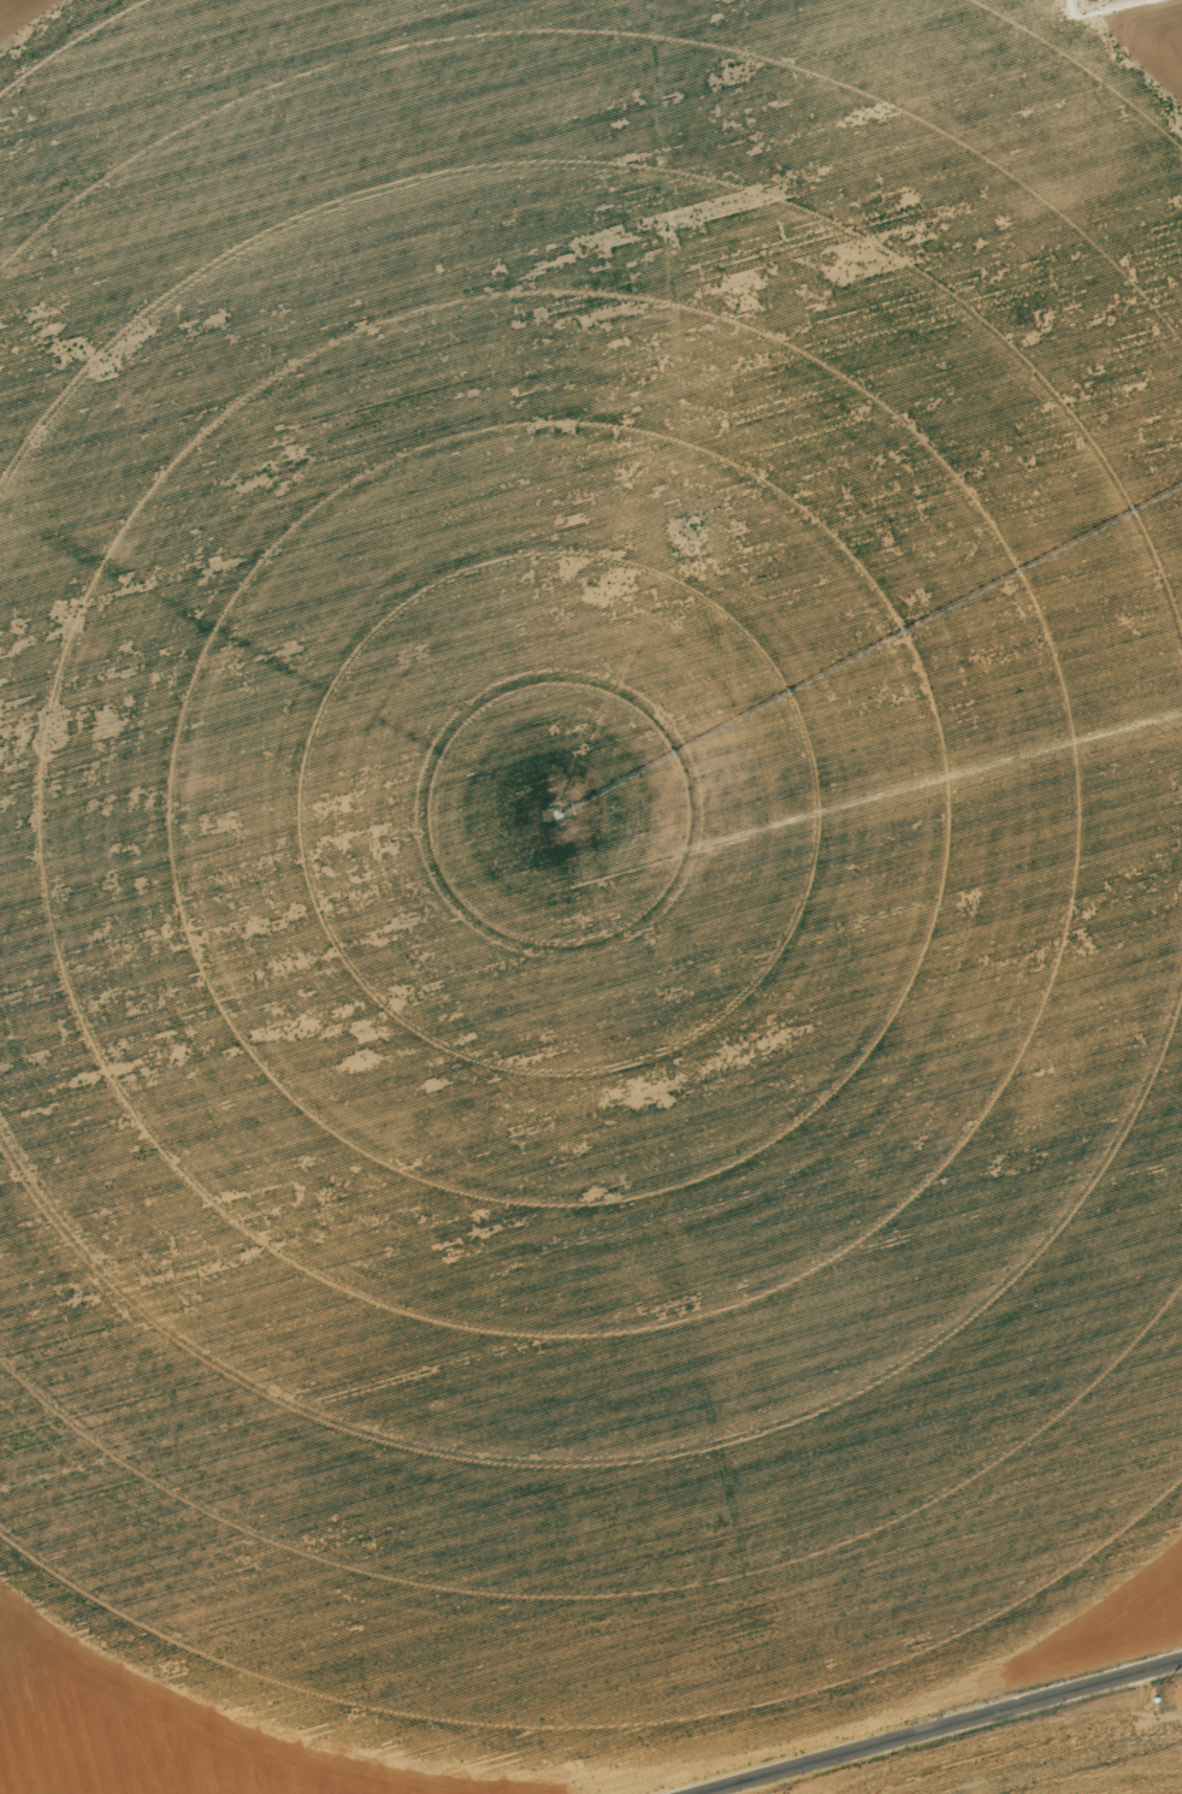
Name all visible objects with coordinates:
road: (928, 1724)

